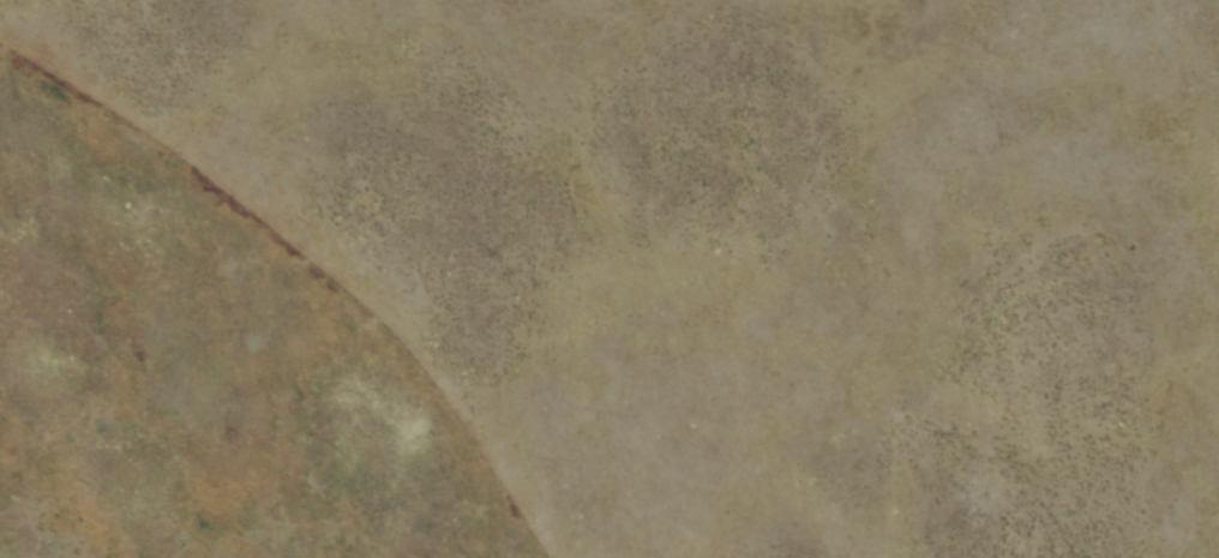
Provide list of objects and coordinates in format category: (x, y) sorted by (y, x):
crop: (202, 371)

